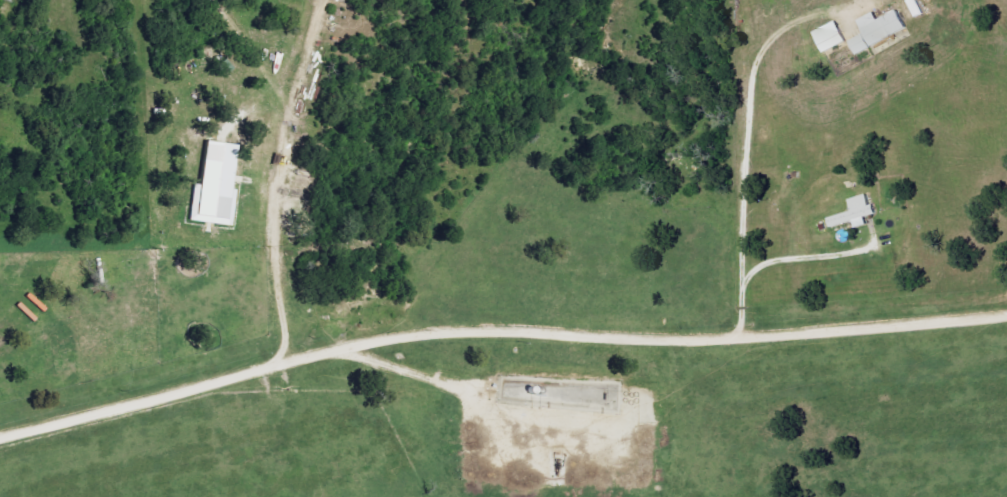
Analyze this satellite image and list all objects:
building: (882, 30)
building: (834, 37)
road: (748, 163)
road: (277, 171)
building: (218, 186)
building: (857, 213)
road: (802, 246)
road: (497, 333)

